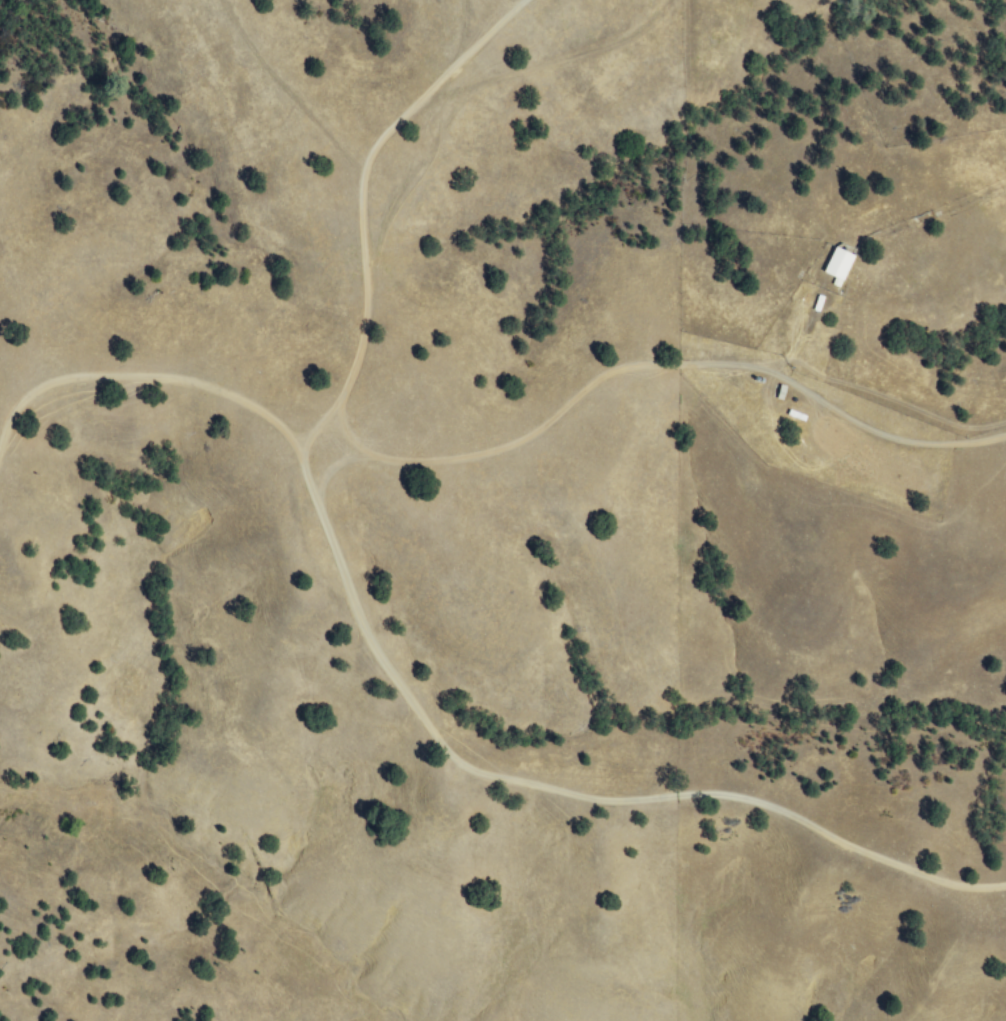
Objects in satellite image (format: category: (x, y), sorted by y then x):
building: (839, 264)

